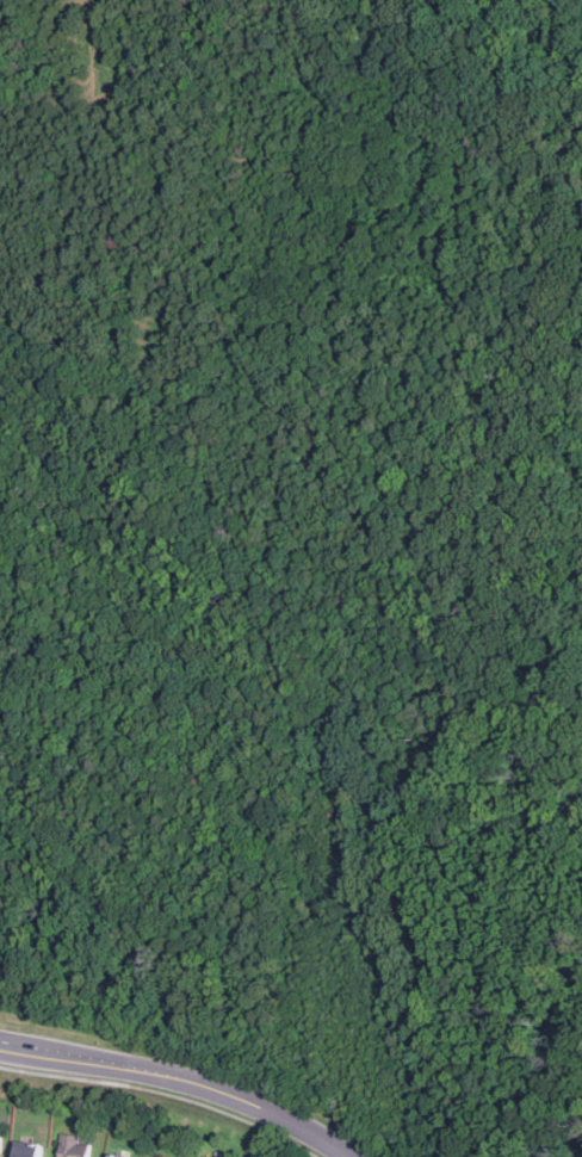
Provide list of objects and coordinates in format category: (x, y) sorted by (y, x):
road: (184, 1077)
road: (163, 1094)
building: (0, 1133)
building: (74, 1146)
building: (27, 1150)
building: (113, 1156)

